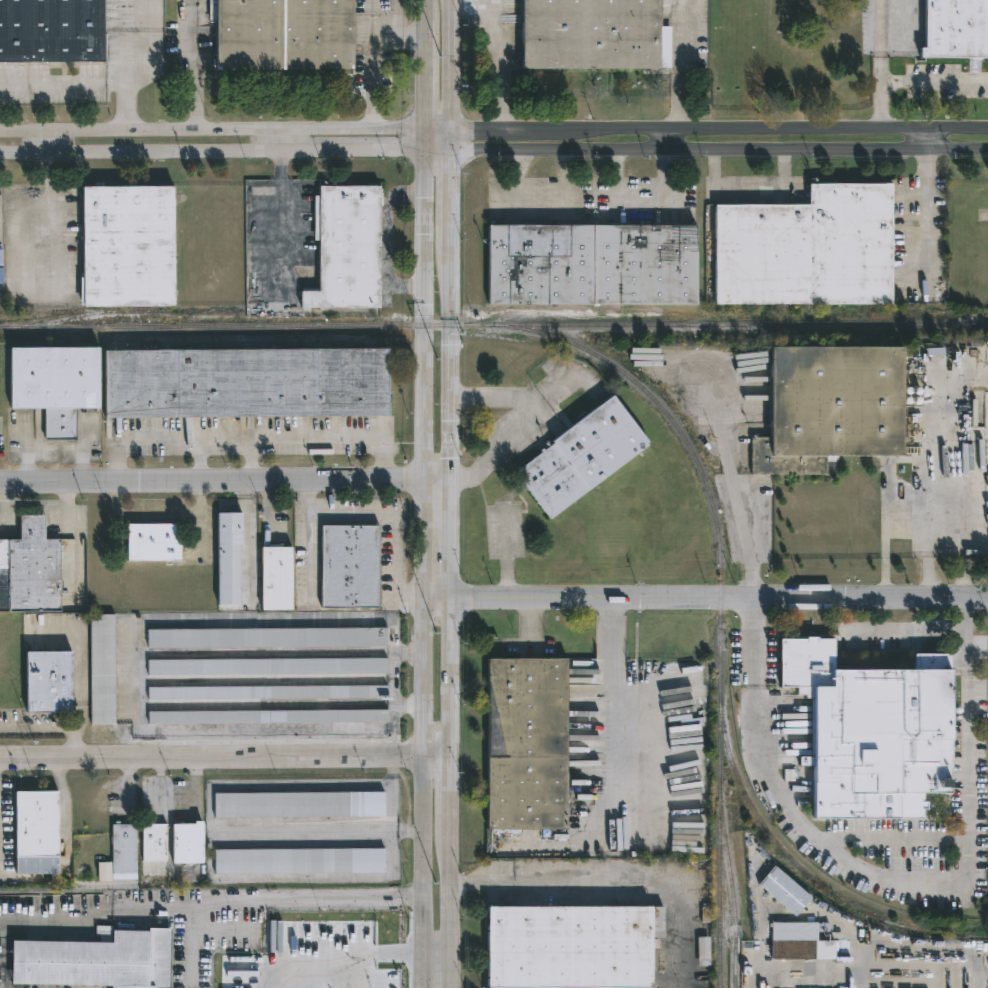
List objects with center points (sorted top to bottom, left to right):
road: (422, 10)
building: (51, 29)
building: (957, 30)
building: (282, 34)
building: (593, 34)
road: (396, 40)
road: (880, 41)
road: (505, 65)
road: (371, 66)
road: (454, 66)
road: (194, 67)
road: (677, 68)
road: (145, 70)
road: (422, 76)
road: (63, 82)
road: (908, 82)
road: (438, 133)
road: (210, 134)
road: (720, 134)
road: (422, 141)
road: (670, 142)
road: (926, 142)
road: (285, 143)
road: (50, 144)
road: (704, 151)
road: (211, 152)
road: (569, 175)
road: (611, 175)
road: (749, 187)
road: (926, 189)
road: (281, 198)
road: (590, 199)
road: (388, 239)
building: (128, 245)
building: (348, 247)
building: (810, 248)
building: (594, 263)
road: (925, 263)
railway: (895, 309)
railway: (91, 312)
railway: (744, 323)
railway: (206, 342)
railway: (631, 373)
building: (247, 382)
building: (55, 383)
building: (827, 406)
road: (524, 426)
road: (250, 439)
building: (584, 456)
road: (199, 460)
road: (249, 460)
road: (226, 482)
road: (199, 498)
building: (986, 498)
road: (737, 505)
road: (392, 511)
road: (120, 514)
road: (177, 514)
road: (906, 525)
road: (200, 534)
road: (248, 541)
building: (153, 542)
road: (962, 546)
building: (229, 557)
road: (452, 560)
building: (351, 566)
road: (423, 568)
building: (30, 569)
building: (277, 578)
road: (705, 586)
road: (212, 619)
road: (905, 631)
road: (967, 631)
building: (267, 638)
road: (755, 638)
building: (267, 667)
building: (102, 669)
road: (83, 679)
road: (396, 679)
building: (48, 682)
building: (268, 693)
road: (635, 697)
building: (614, 709)
building: (267, 717)
road: (52, 726)
road: (280, 731)
building: (877, 733)
building: (529, 743)
road: (225, 756)
building: (299, 805)
road: (63, 815)
building: (37, 833)
road: (890, 839)
building: (154, 842)
building: (189, 844)
building: (124, 852)
building: (299, 861)
railway: (806, 870)
building: (105, 872)
road: (36, 879)
road: (613, 884)
road: (905, 885)
building: (782, 890)
railway: (732, 899)
road: (310, 902)
road: (195, 908)
road: (56, 915)
railway: (975, 928)
building: (799, 941)
building: (575, 945)
building: (704, 950)
road: (436, 955)
building: (96, 960)
road: (367, 962)

